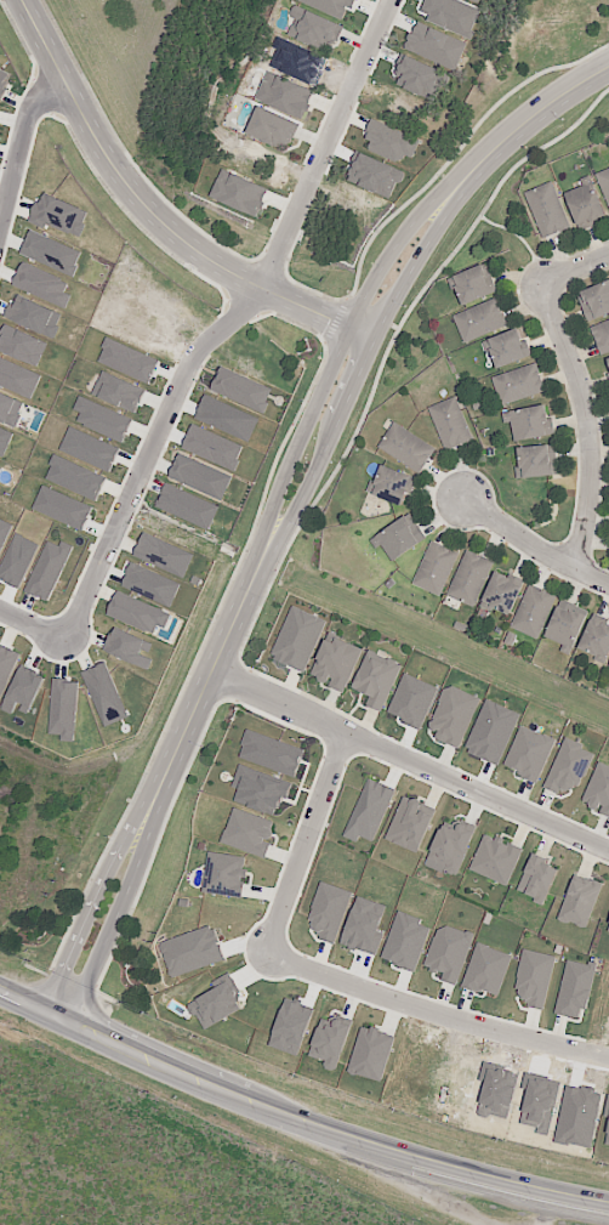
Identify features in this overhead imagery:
building: (479, 0)
building: (330, 6)
building: (451, 16)
building: (314, 29)
building: (436, 50)
building: (0, 69)
building: (284, 95)
road: (530, 117)
road: (18, 126)
building: (280, 132)
building: (391, 142)
road: (326, 144)
building: (604, 182)
building: (238, 193)
building: (588, 208)
building: (550, 210)
road: (154, 214)
building: (58, 215)
road: (512, 233)
road: (576, 270)
building: (476, 284)
building: (596, 302)
building: (482, 322)
road: (392, 324)
building: (603, 336)
building: (511, 350)
building: (608, 361)
road: (330, 373)
building: (608, 374)
road: (353, 386)
building: (520, 386)
building: (240, 390)
building: (453, 425)
building: (534, 425)
road: (587, 427)
building: (406, 449)
road: (144, 454)
building: (540, 463)
building: (200, 477)
building: (393, 487)
road: (306, 514)
building: (403, 538)
road: (535, 549)
building: (164, 555)
building: (47, 569)
building: (437, 569)
building: (472, 580)
building: (149, 585)
building: (503, 594)
building: (536, 612)
building: (137, 613)
building: (567, 625)
road: (33, 628)
building: (297, 639)
building: (597, 641)
building: (129, 648)
building: (335, 663)
building: (376, 679)
building: (23, 691)
building: (104, 694)
road: (199, 694)
building: (63, 709)
building: (453, 715)
building: (528, 753)
road: (409, 758)
building: (292, 761)
building: (568, 767)
building: (598, 789)
building: (368, 811)
building: (409, 824)
building: (247, 833)
road: (307, 840)
building: (450, 846)
building: (495, 858)
building: (223, 874)
building: (536, 879)
building: (579, 901)
road: (93, 902)
building: (328, 912)
road: (118, 913)
building: (364, 926)
building: (608, 931)
building: (405, 941)
building: (190, 952)
building: (448, 952)
building: (485, 970)
building: (533, 979)
building: (574, 988)
road: (434, 1014)
building: (330, 1043)
building: (370, 1053)
road: (22, 1059)
road: (34, 1098)
road: (296, 1123)

